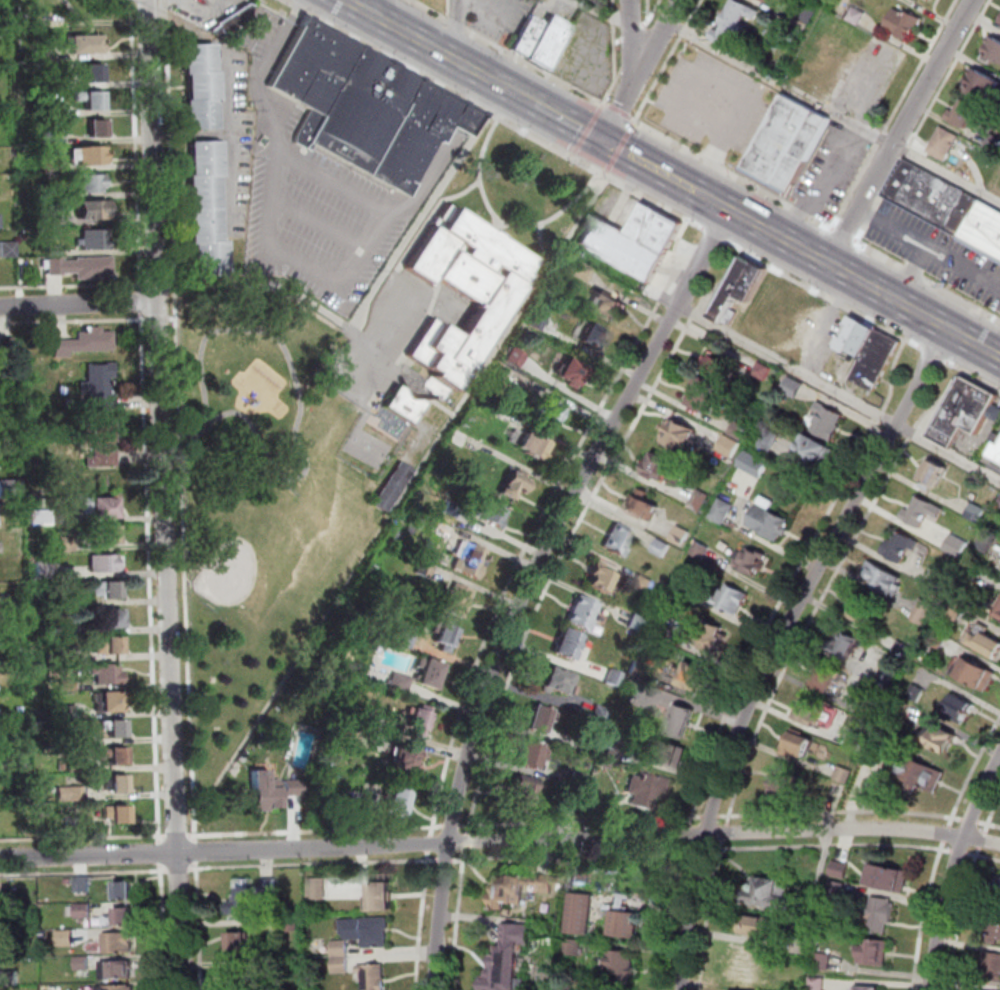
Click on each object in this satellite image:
building: (820, 0)
building: (929, 0)
building: (768, 1)
road: (225, 5)
road: (612, 6)
road: (648, 9)
road: (385, 11)
building: (808, 11)
road: (604, 12)
road: (652, 14)
building: (857, 15)
road: (614, 18)
building: (735, 19)
building: (999, 19)
building: (234, 23)
building: (903, 23)
road: (677, 27)
building: (3, 29)
road: (454, 29)
road: (695, 30)
road: (632, 34)
road: (410, 36)
building: (539, 39)
building: (82, 43)
road: (634, 48)
building: (992, 49)
building: (44, 52)
road: (512, 52)
road: (614, 53)
road: (386, 54)
road: (668, 62)
road: (642, 70)
building: (91, 71)
road: (262, 74)
road: (481, 75)
road: (495, 82)
building: (983, 84)
building: (202, 86)
road: (788, 87)
road: (612, 88)
road: (478, 90)
road: (520, 96)
building: (92, 98)
parking lot: (714, 103)
building: (45, 105)
building: (367, 106)
road: (691, 108)
road: (620, 111)
building: (963, 113)
road: (894, 114)
road: (465, 116)
road: (923, 121)
road: (732, 122)
road: (568, 123)
building: (98, 128)
road: (898, 131)
road: (586, 132)
building: (48, 136)
traffic signals: (603, 141)
building: (788, 142)
road: (169, 143)
building: (945, 143)
building: (993, 143)
parking lot: (235, 144)
road: (138, 145)
road: (618, 149)
building: (87, 154)
road: (648, 166)
road: (595, 169)
road: (946, 172)
road: (732, 174)
building: (91, 183)
building: (64, 194)
road: (452, 197)
parking lot: (313, 203)
building: (948, 205)
building: (93, 209)
road: (382, 209)
building: (207, 211)
road: (411, 211)
road: (397, 215)
building: (49, 220)
building: (0, 221)
road: (503, 223)
road: (319, 225)
road: (716, 235)
road: (843, 236)
building: (94, 239)
building: (634, 240)
road: (567, 241)
road: (919, 243)
building: (9, 249)
building: (54, 251)
parking lot: (937, 253)
building: (55, 265)
road: (963, 266)
building: (90, 267)
road: (304, 269)
building: (581, 270)
road: (847, 275)
road: (724, 281)
road: (925, 281)
road: (71, 285)
building: (743, 288)
road: (272, 290)
building: (462, 293)
building: (548, 293)
road: (823, 293)
road: (372, 294)
road: (143, 297)
building: (608, 303)
road: (79, 304)
road: (399, 309)
road: (697, 314)
road: (160, 318)
road: (174, 318)
building: (539, 318)
road: (74, 320)
road: (236, 328)
building: (597, 336)
parking lot: (387, 337)
building: (93, 340)
building: (7, 344)
building: (62, 348)
building: (870, 351)
road: (932, 351)
building: (517, 357)
building: (719, 368)
road: (794, 369)
building: (575, 371)
building: (763, 371)
building: (506, 372)
road: (893, 374)
road: (972, 374)
building: (98, 379)
building: (793, 386)
park: (241, 387)
building: (705, 393)
building: (101, 402)
building: (403, 404)
building: (6, 407)
building: (966, 411)
building: (551, 414)
road: (881, 416)
building: (828, 421)
building: (740, 431)
building: (680, 435)
building: (462, 438)
building: (767, 439)
building: (102, 444)
building: (535, 446)
building: (730, 446)
park: (368, 448)
building: (997, 452)
building: (816, 453)
road: (268, 455)
building: (6, 462)
building: (754, 464)
building: (659, 466)
building: (935, 472)
building: (800, 478)
building: (517, 483)
building: (392, 487)
building: (10, 488)
road: (166, 494)
building: (700, 500)
building: (999, 504)
building: (644, 505)
building: (101, 507)
building: (454, 509)
building: (723, 510)
building: (922, 511)
building: (492, 512)
building: (977, 512)
building: (61, 515)
road: (542, 520)
building: (769, 520)
building: (107, 534)
building: (681, 535)
building: (620, 540)
building: (988, 541)
building: (67, 543)
building: (957, 545)
building: (0, 547)
building: (900, 547)
building: (662, 548)
building: (701, 549)
building: (32, 558)
building: (471, 559)
building: (751, 561)
building: (104, 563)
road: (186, 564)
road: (558, 568)
building: (45, 570)
building: (426, 570)
park: (246, 572)
building: (884, 578)
building: (602, 579)
building: (942, 579)
road: (531, 582)
building: (643, 582)
building: (685, 586)
road: (826, 586)
building: (109, 590)
building: (730, 598)
building: (459, 600)
building: (8, 601)
building: (999, 606)
building: (923, 611)
building: (865, 612)
building: (585, 613)
building: (998, 613)
building: (112, 618)
road: (770, 618)
building: (638, 623)
building: (662, 629)
building: (71, 630)
building: (447, 636)
building: (712, 637)
building: (409, 639)
building: (985, 641)
building: (569, 644)
building: (109, 645)
road: (773, 645)
building: (846, 645)
building: (900, 647)
building: (69, 655)
building: (639, 669)
building: (431, 672)
building: (976, 673)
building: (108, 674)
building: (615, 677)
building: (695, 677)
building: (887, 677)
building: (828, 678)
building: (559, 680)
building: (401, 683)
building: (68, 685)
building: (633, 689)
building: (917, 692)
building: (113, 702)
building: (958, 708)
building: (70, 711)
building: (809, 713)
building: (868, 713)
building: (601, 714)
building: (541, 719)
building: (376, 721)
building: (422, 721)
building: (681, 721)
building: (116, 728)
building: (76, 738)
building: (944, 739)
building: (855, 744)
building: (797, 745)
building: (589, 747)
building: (617, 748)
building: (668, 753)
building: (534, 755)
building: (875, 755)
building: (117, 756)
building: (406, 760)
building: (62, 764)
building: (606, 764)
building: (75, 766)
road: (972, 770)
building: (844, 775)
building: (921, 776)
building: (580, 780)
building: (118, 784)
building: (783, 784)
building: (271, 790)
building: (649, 790)
building: (524, 792)
building: (72, 793)
building: (575, 797)
building: (399, 803)
building: (357, 805)
building: (600, 806)
road: (838, 811)
building: (118, 814)
road: (580, 820)
building: (74, 826)
road: (454, 827)
road: (317, 830)
road: (947, 831)
road: (179, 834)
road: (84, 836)
road: (469, 839)
road: (500, 841)
road: (432, 844)
road: (980, 844)
road: (196, 852)
road: (962, 853)
road: (983, 857)
road: (160, 858)
road: (443, 861)
road: (315, 862)
road: (180, 869)
road: (954, 869)
building: (841, 870)
road: (84, 871)
building: (583, 875)
building: (888, 878)
building: (68, 882)
building: (542, 884)
building: (83, 885)
building: (996, 885)
building: (270, 887)
building: (318, 889)
building: (837, 890)
building: (125, 891)
building: (508, 892)
building: (772, 895)
building: (381, 898)
building: (244, 899)
building: (84, 911)
building: (581, 913)
building: (879, 914)
road: (960, 917)
building: (121, 919)
road: (422, 920)
building: (627, 925)
building: (755, 925)
building: (2, 926)
road: (162, 926)
road: (198, 926)
building: (292, 926)
building: (993, 930)
building: (369, 932)
building: (516, 935)
building: (66, 939)
building: (119, 943)
building: (240, 943)
building: (573, 947)
building: (801, 947)
building: (342, 949)
building: (875, 952)
building: (4, 953)
building: (822, 961)
building: (342, 965)
building: (622, 965)
building: (83, 967)
building: (276, 967)
building: (745, 967)
building: (991, 967)
building: (117, 970)
building: (506, 971)
building: (374, 977)
building: (11, 978)
building: (242, 978)
building: (818, 984)
building: (85, 988)
building: (116, 988)
building: (570, 988)
building: (868, 988)
building: (987, 989)

